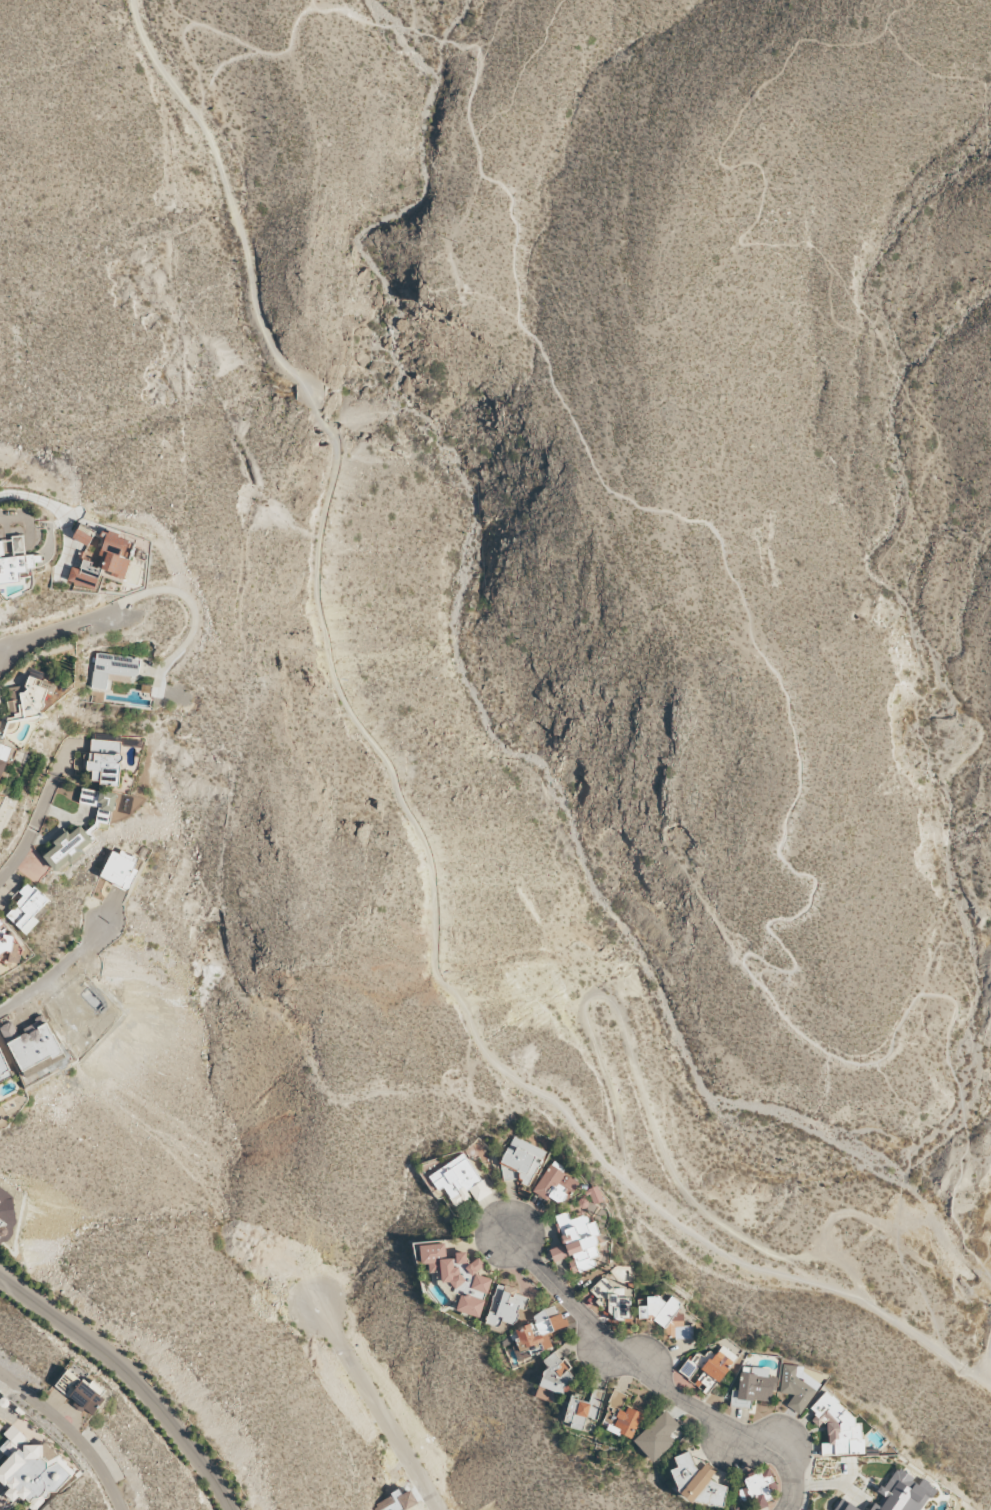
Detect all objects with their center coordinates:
road: (908, 2)
road: (414, 15)
road: (217, 30)
road: (223, 63)
road: (521, 73)
road: (830, 312)
road: (903, 387)
building: (100, 556)
building: (16, 561)
road: (194, 612)
road: (51, 633)
road: (10, 651)
building: (112, 668)
building: (28, 699)
building: (0, 718)
road: (791, 730)
building: (5, 757)
building: (105, 761)
building: (99, 803)
road: (405, 805)
road: (33, 833)
building: (69, 847)
building: (121, 868)
building: (27, 908)
building: (9, 947)
road: (58, 972)
building: (31, 1044)
building: (3, 1067)
road: (647, 1105)
building: (522, 1159)
building: (459, 1180)
building: (554, 1185)
building: (0, 1203)
road: (948, 1203)
building: (2, 1227)
building: (577, 1245)
building: (454, 1269)
building: (612, 1300)
building: (469, 1305)
building: (505, 1305)
building: (666, 1317)
building: (531, 1338)
building: (709, 1364)
building: (553, 1377)
road: (132, 1378)
road: (653, 1380)
building: (796, 1386)
building: (752, 1387)
building: (79, 1392)
building: (616, 1398)
road: (377, 1407)
building: (582, 1409)
building: (625, 1422)
building: (837, 1427)
road: (73, 1431)
building: (656, 1436)
building: (30, 1469)
building: (695, 1482)
building: (757, 1487)
building: (903, 1493)
building: (395, 1502)
building: (845, 1505)

